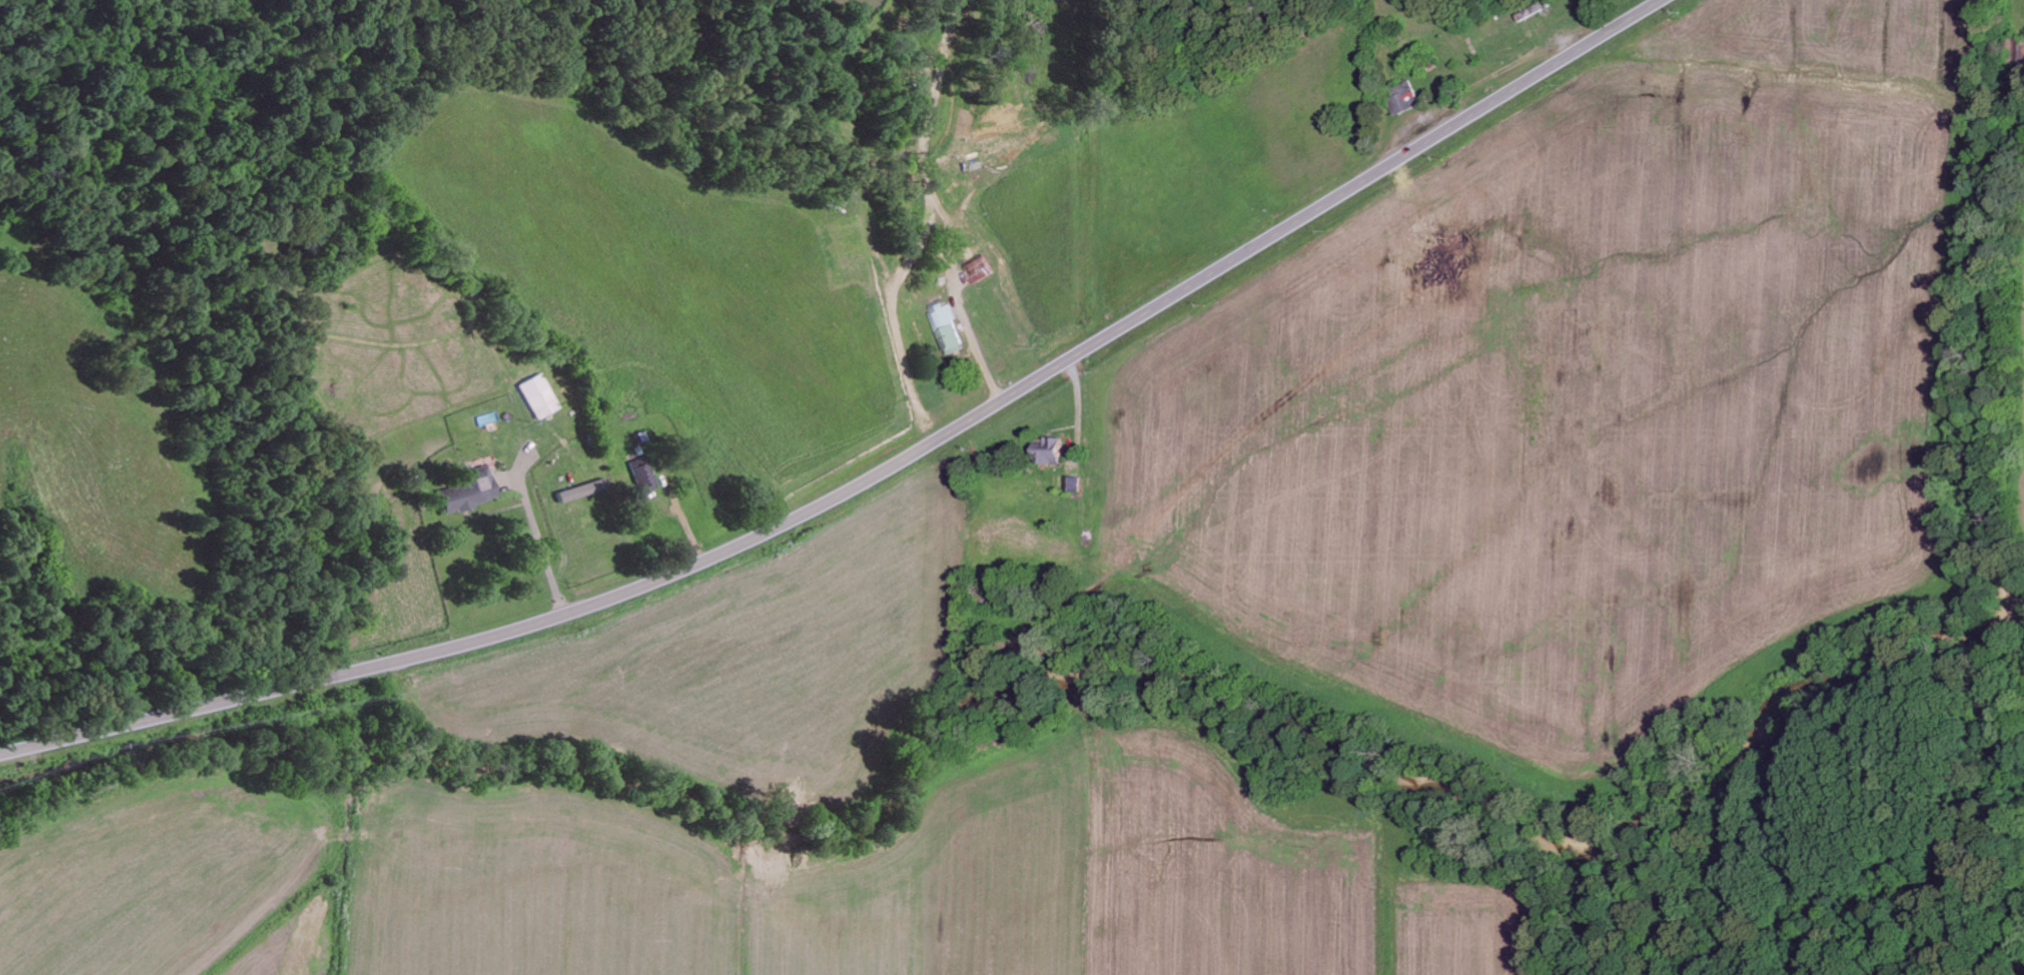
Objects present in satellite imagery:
building: (981, 268)
building: (949, 326)
building: (539, 395)
building: (1052, 450)
road: (871, 474)
building: (644, 475)
building: (471, 490)
building: (572, 493)

